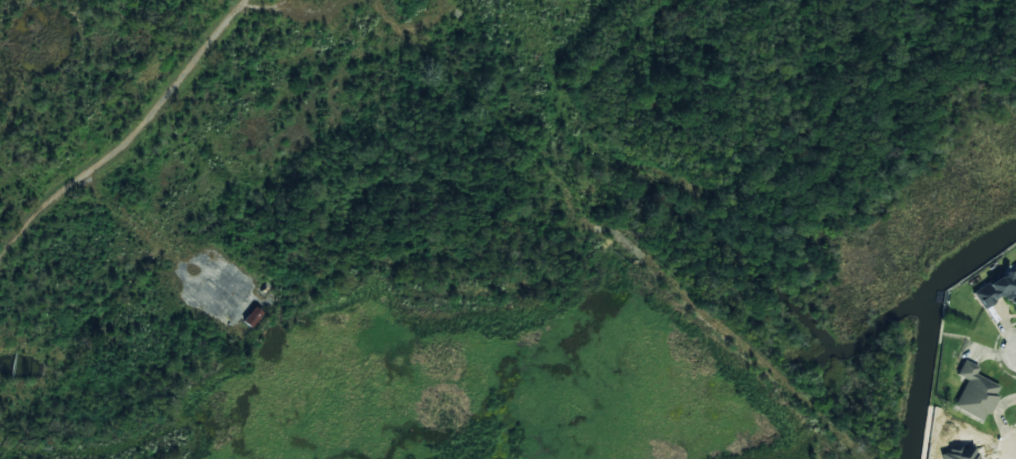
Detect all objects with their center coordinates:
road: (132, 138)
road: (139, 226)
building: (996, 289)
building: (250, 317)
building: (972, 393)

